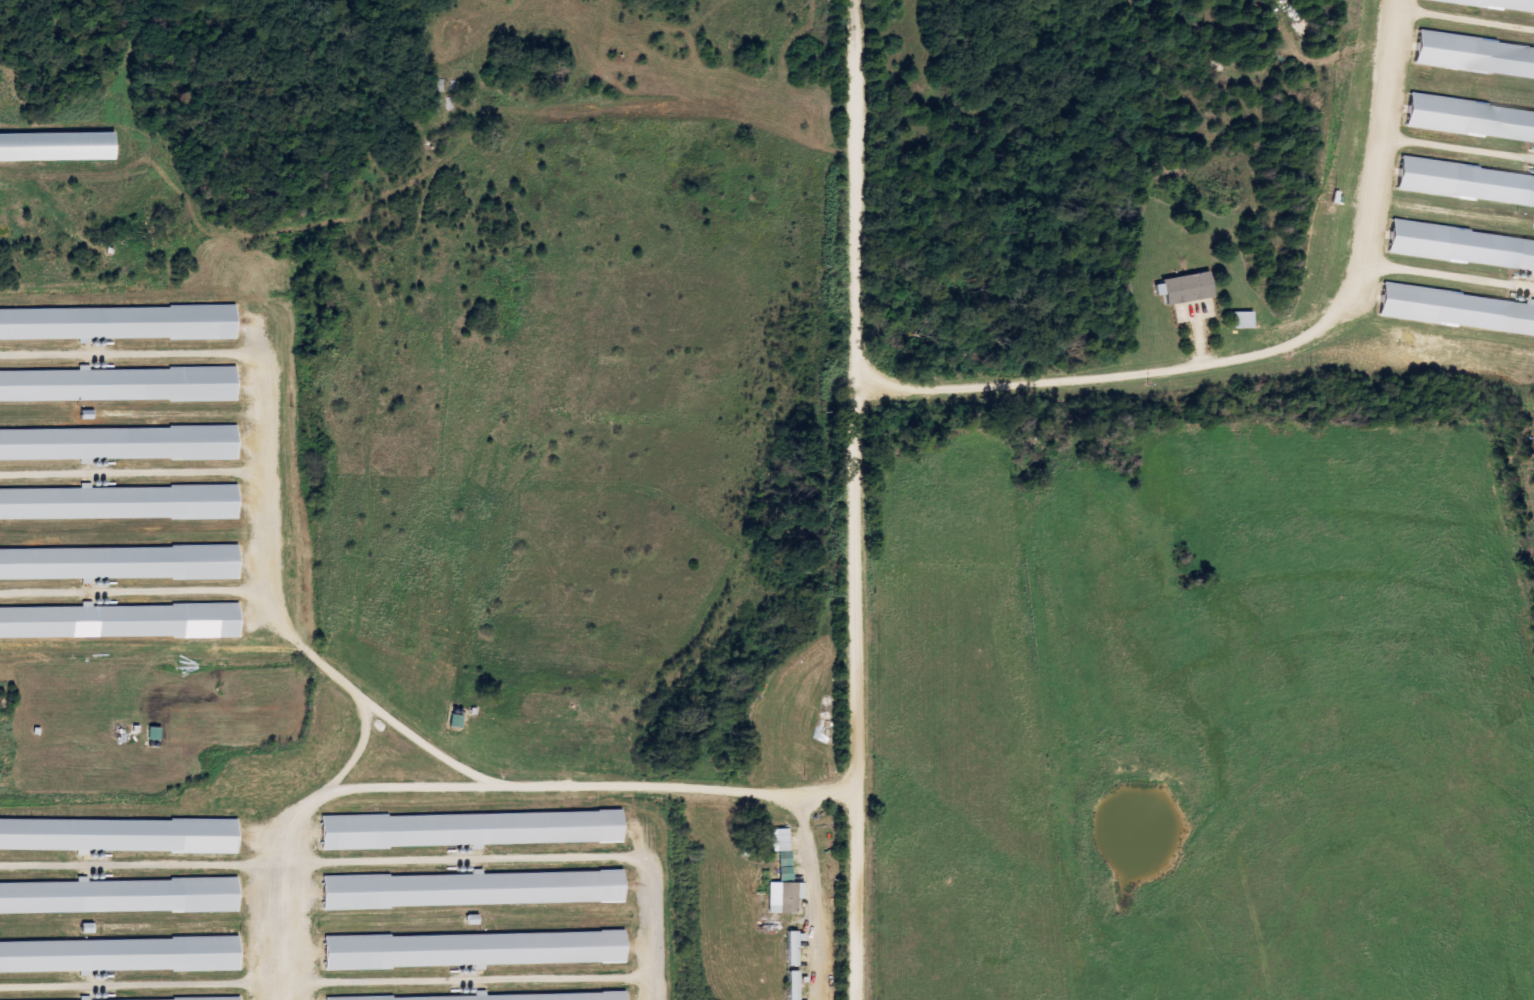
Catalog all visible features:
building: (1496, 4)
building: (1477, 56)
building: (1472, 120)
building: (58, 146)
building: (1468, 183)
building: (1463, 248)
building: (1188, 289)
building: (1459, 310)
building: (1246, 320)
building: (119, 323)
building: (120, 385)
building: (120, 444)
road: (863, 499)
building: (120, 503)
building: (119, 564)
building: (121, 622)
building: (473, 829)
building: (120, 836)
building: (787, 879)
building: (476, 889)
building: (120, 896)
building: (798, 946)
building: (475, 950)
building: (120, 955)
building: (797, 985)
building: (496, 997)

